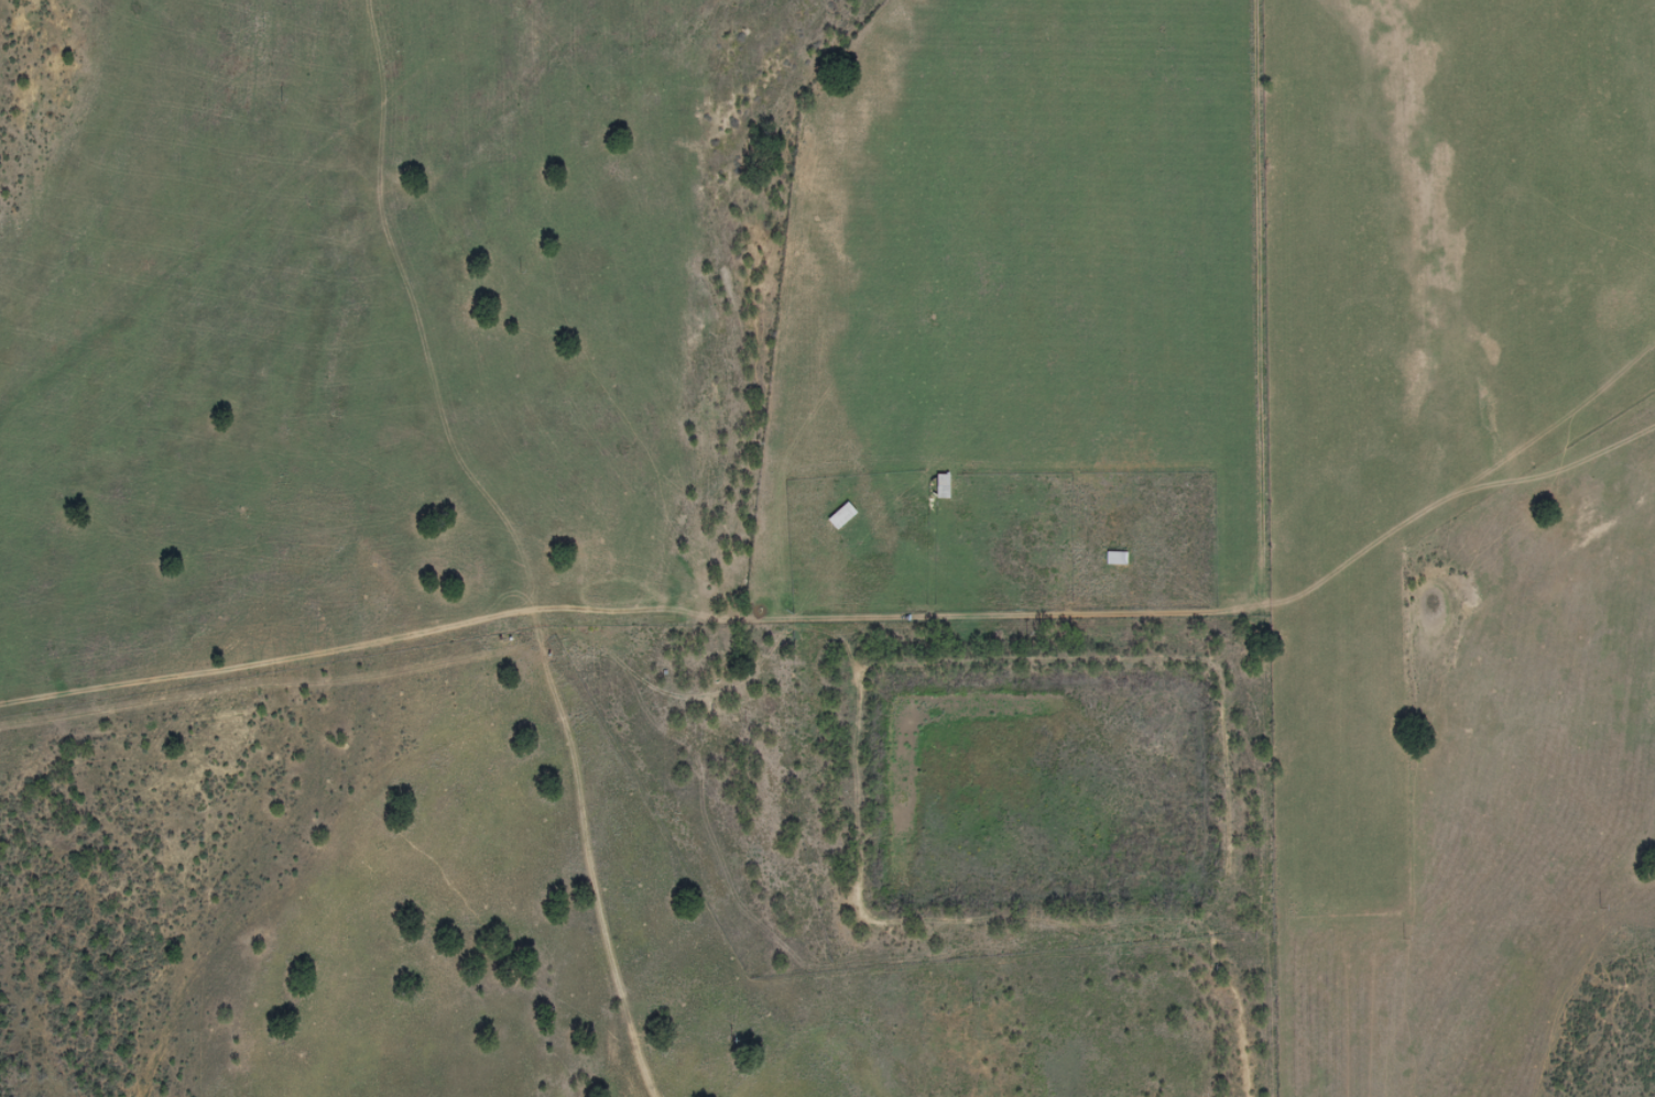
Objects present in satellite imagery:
building: (939, 487)
building: (838, 517)
road: (502, 544)
building: (1113, 558)

